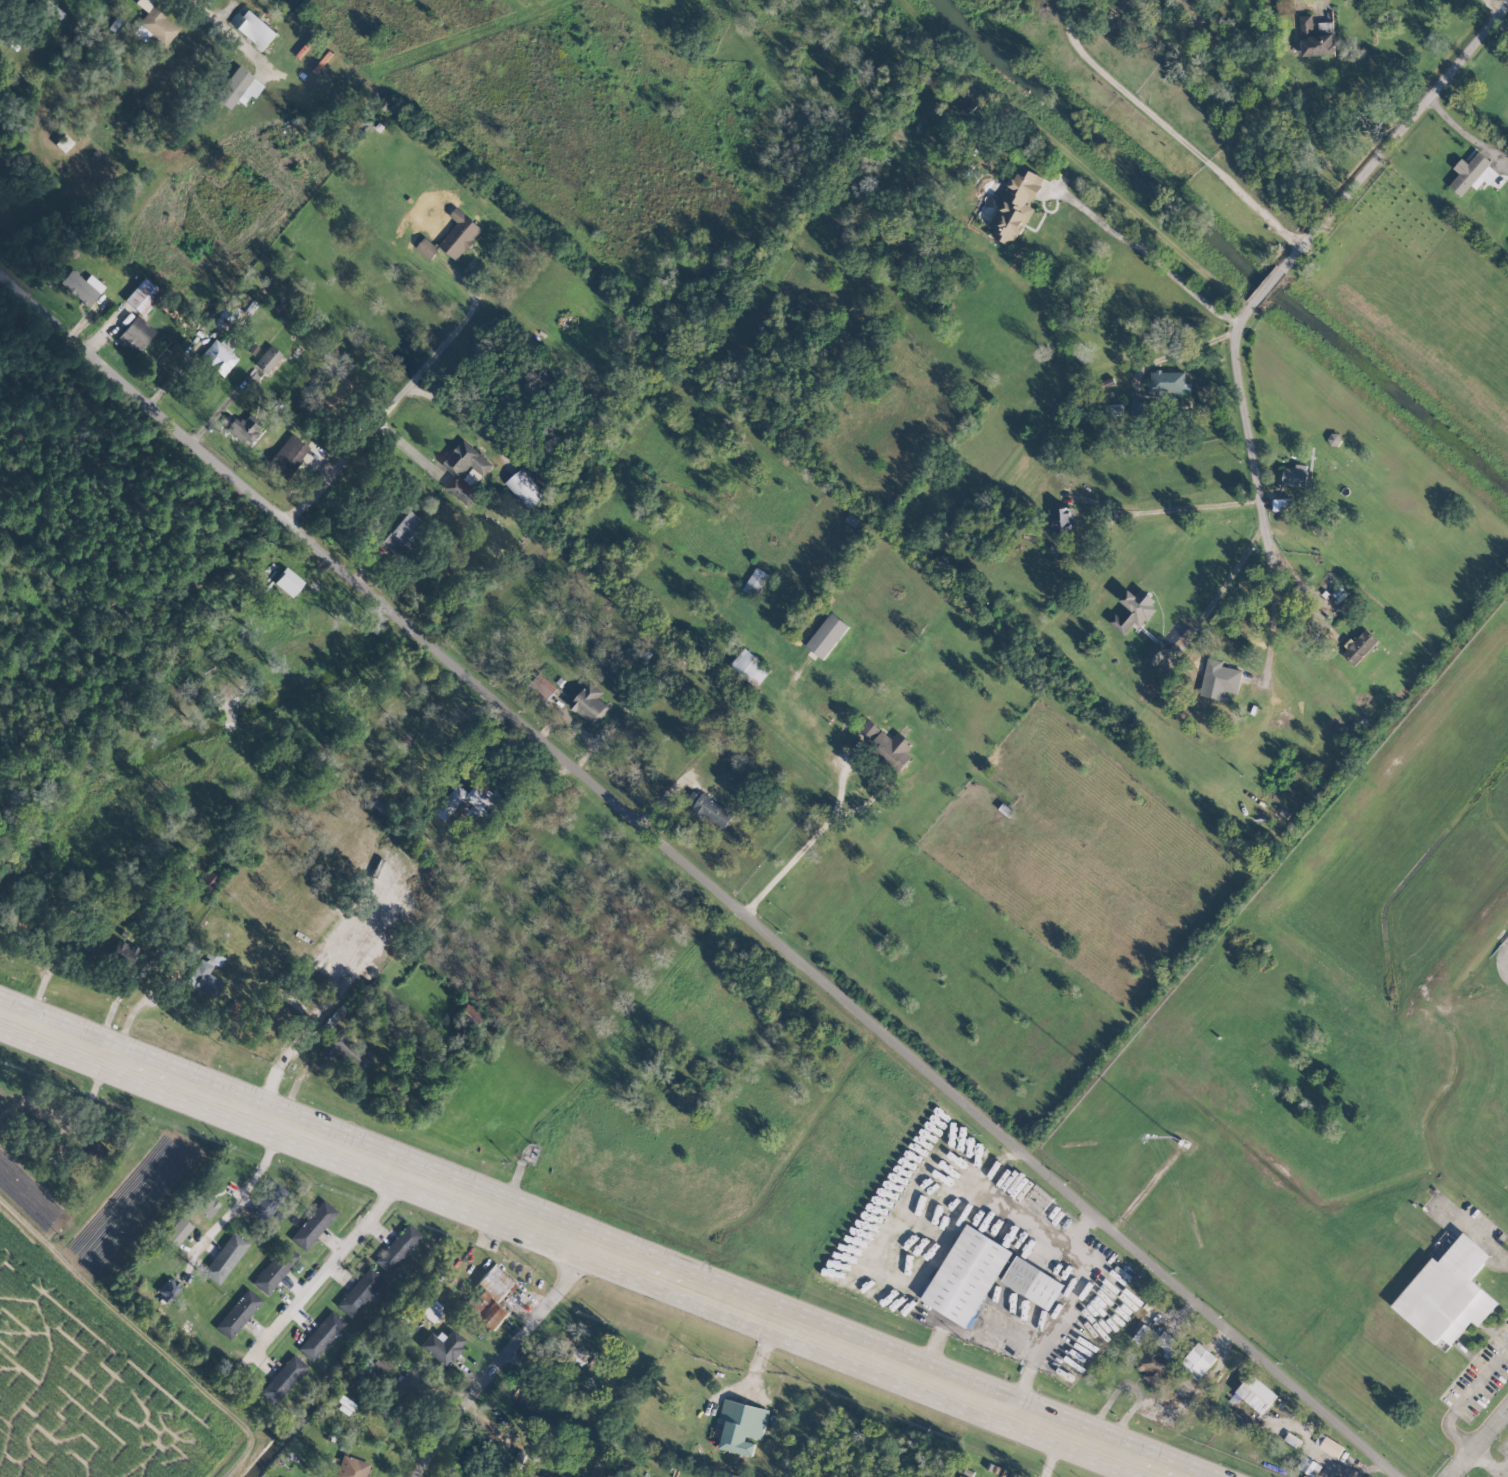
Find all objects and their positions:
road: (1495, 5)
building: (156, 21)
building: (255, 30)
road: (231, 35)
building: (1315, 39)
road: (1170, 129)
building: (63, 143)
building: (1473, 174)
building: (1015, 206)
building: (460, 234)
road: (1302, 243)
building: (427, 248)
road: (1148, 252)
building: (81, 287)
building: (141, 297)
building: (228, 312)
building: (136, 333)
road: (1182, 350)
building: (218, 357)
building: (266, 359)
building: (1166, 382)
building: (335, 392)
road: (224, 404)
road: (388, 405)
road: (280, 407)
building: (241, 429)
building: (286, 456)
building: (465, 470)
building: (1294, 476)
building: (525, 489)
building: (1281, 504)
road: (1168, 509)
building: (1061, 519)
building: (399, 531)
building: (287, 582)
building: (756, 582)
road: (1223, 586)
road: (1273, 604)
building: (1133, 610)
building: (827, 635)
building: (1359, 646)
building: (1156, 653)
building: (750, 667)
building: (1221, 676)
building: (540, 688)
building: (590, 704)
building: (869, 730)
building: (892, 749)
building: (387, 796)
building: (470, 803)
road: (835, 808)
building: (713, 811)
road: (701, 873)
building: (204, 975)
road: (115, 999)
road: (130, 1015)
road: (296, 1044)
building: (346, 1050)
road: (243, 1189)
building: (268, 1201)
building: (312, 1225)
building: (177, 1231)
road: (1476, 1235)
road: (590, 1247)
building: (396, 1248)
building: (224, 1257)
road: (329, 1262)
building: (274, 1269)
building: (966, 1275)
road: (1083, 1279)
building: (1032, 1282)
building: (168, 1289)
building: (358, 1292)
building: (1447, 1293)
building: (489, 1295)
building: (427, 1309)
building: (237, 1313)
road: (992, 1331)
building: (1140, 1333)
building: (320, 1335)
building: (441, 1346)
road: (933, 1350)
road: (760, 1358)
building: (1157, 1359)
road: (500, 1360)
building: (1198, 1360)
building: (282, 1379)
road: (1025, 1379)
building: (408, 1382)
building: (1256, 1393)
road: (1465, 1397)
building: (741, 1426)
road: (1477, 1441)
building: (1329, 1445)
road: (1048, 1453)
road: (1487, 1463)
building: (1309, 1466)
building: (351, 1467)

